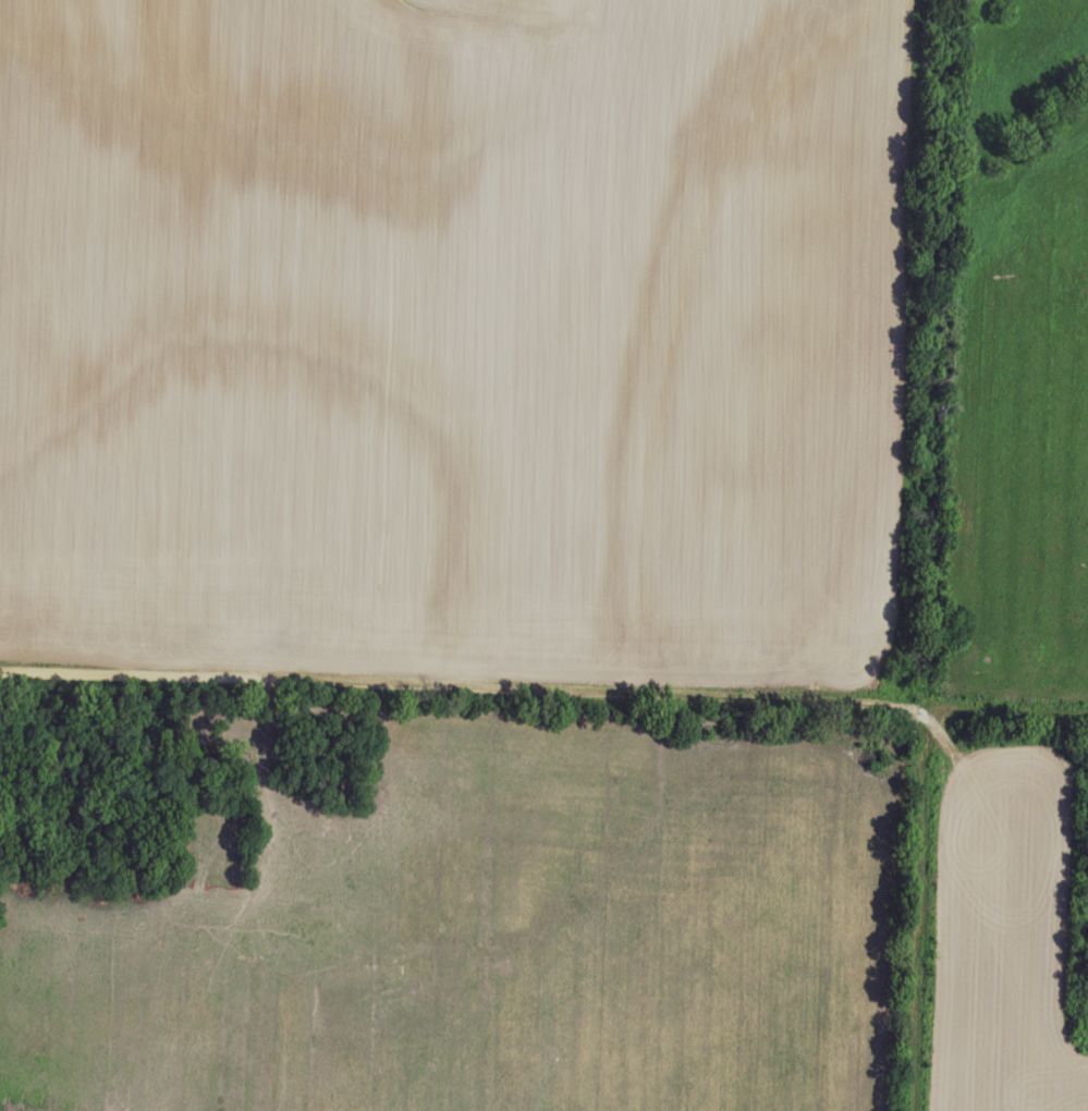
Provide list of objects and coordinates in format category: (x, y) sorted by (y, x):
road: (485, 692)
road: (925, 911)

